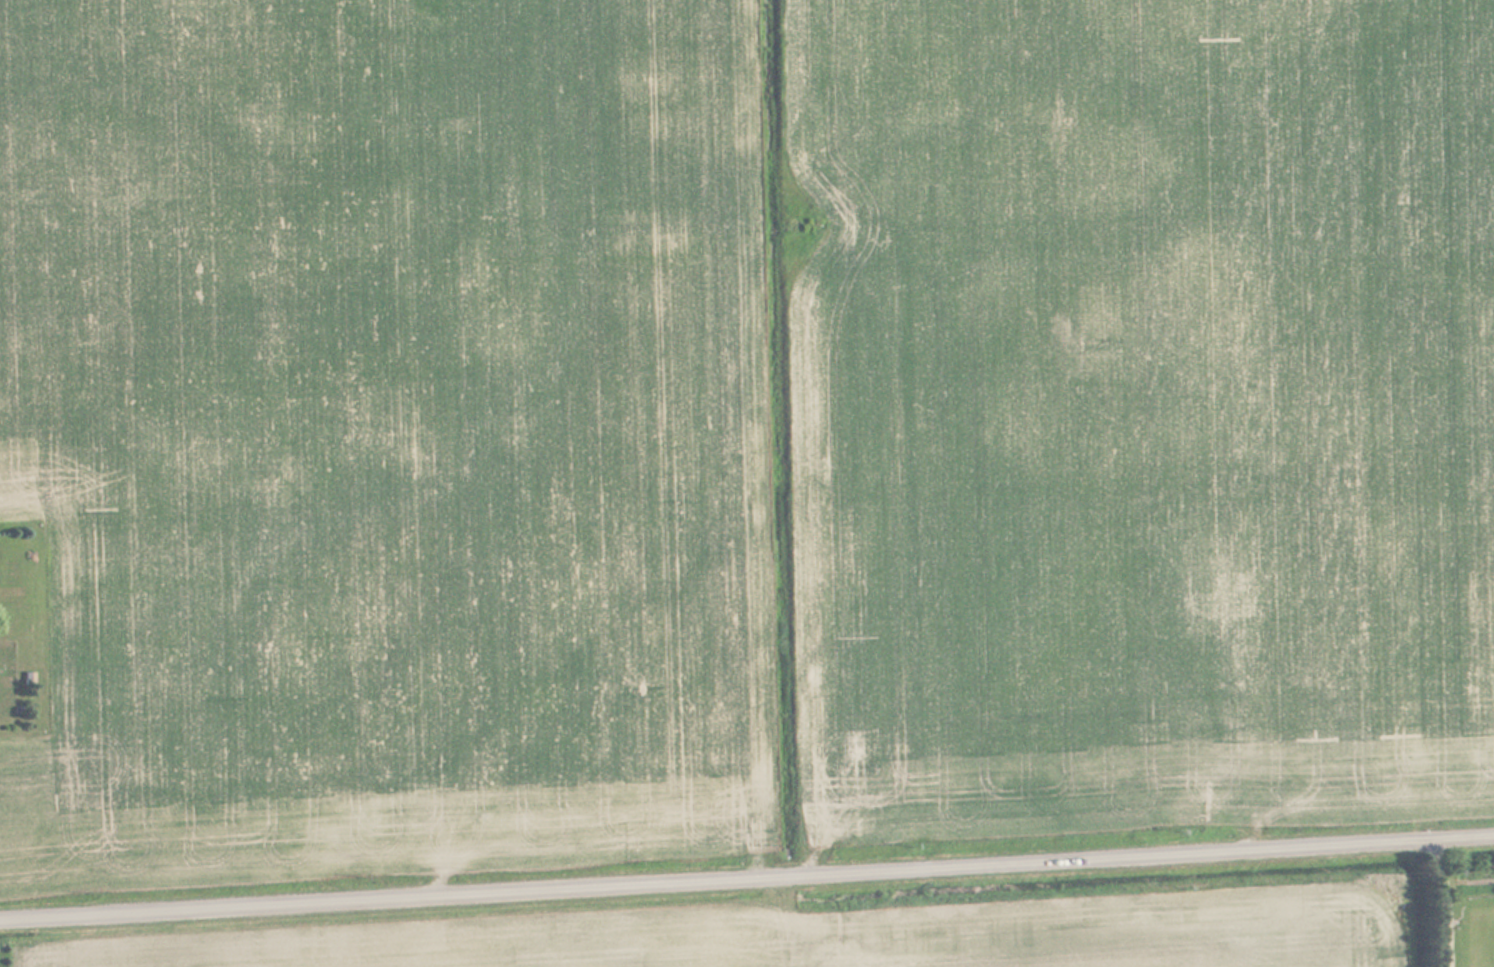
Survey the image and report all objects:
building: (28, 679)
road: (747, 878)

